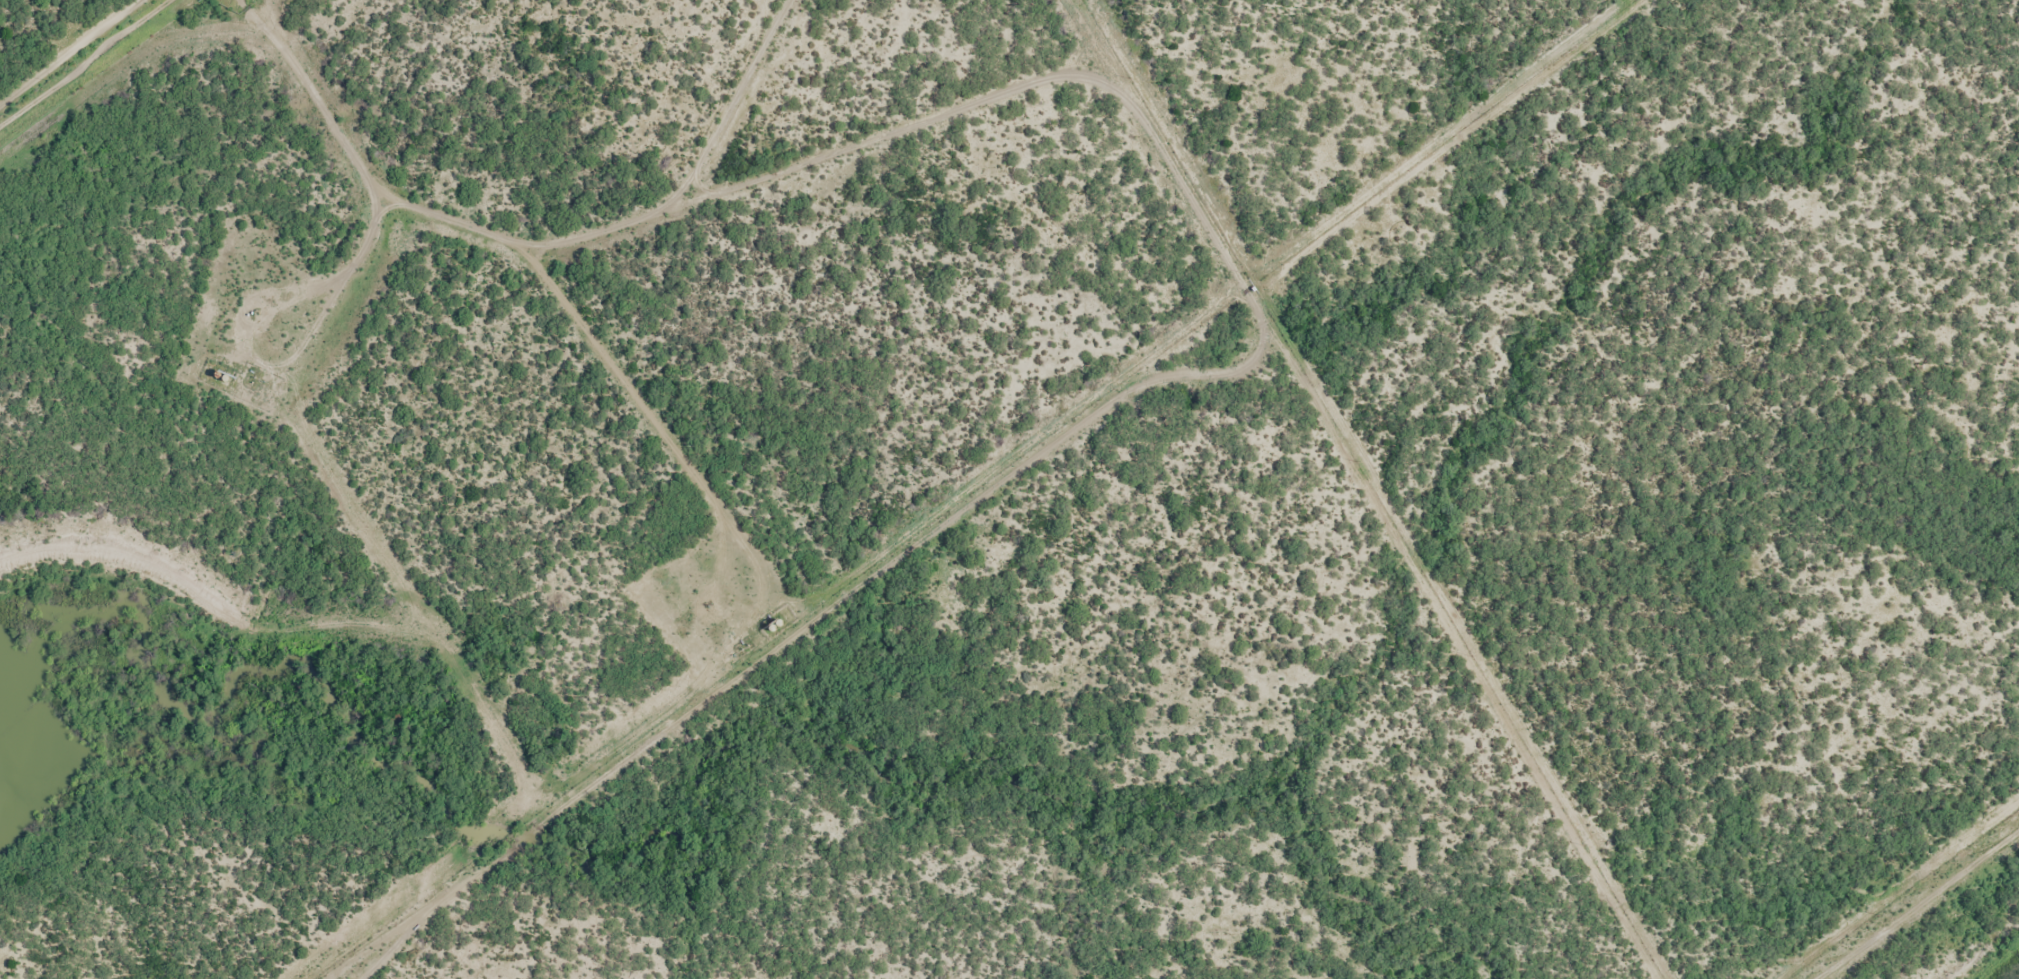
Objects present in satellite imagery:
road: (87, 64)
road: (1913, 913)

